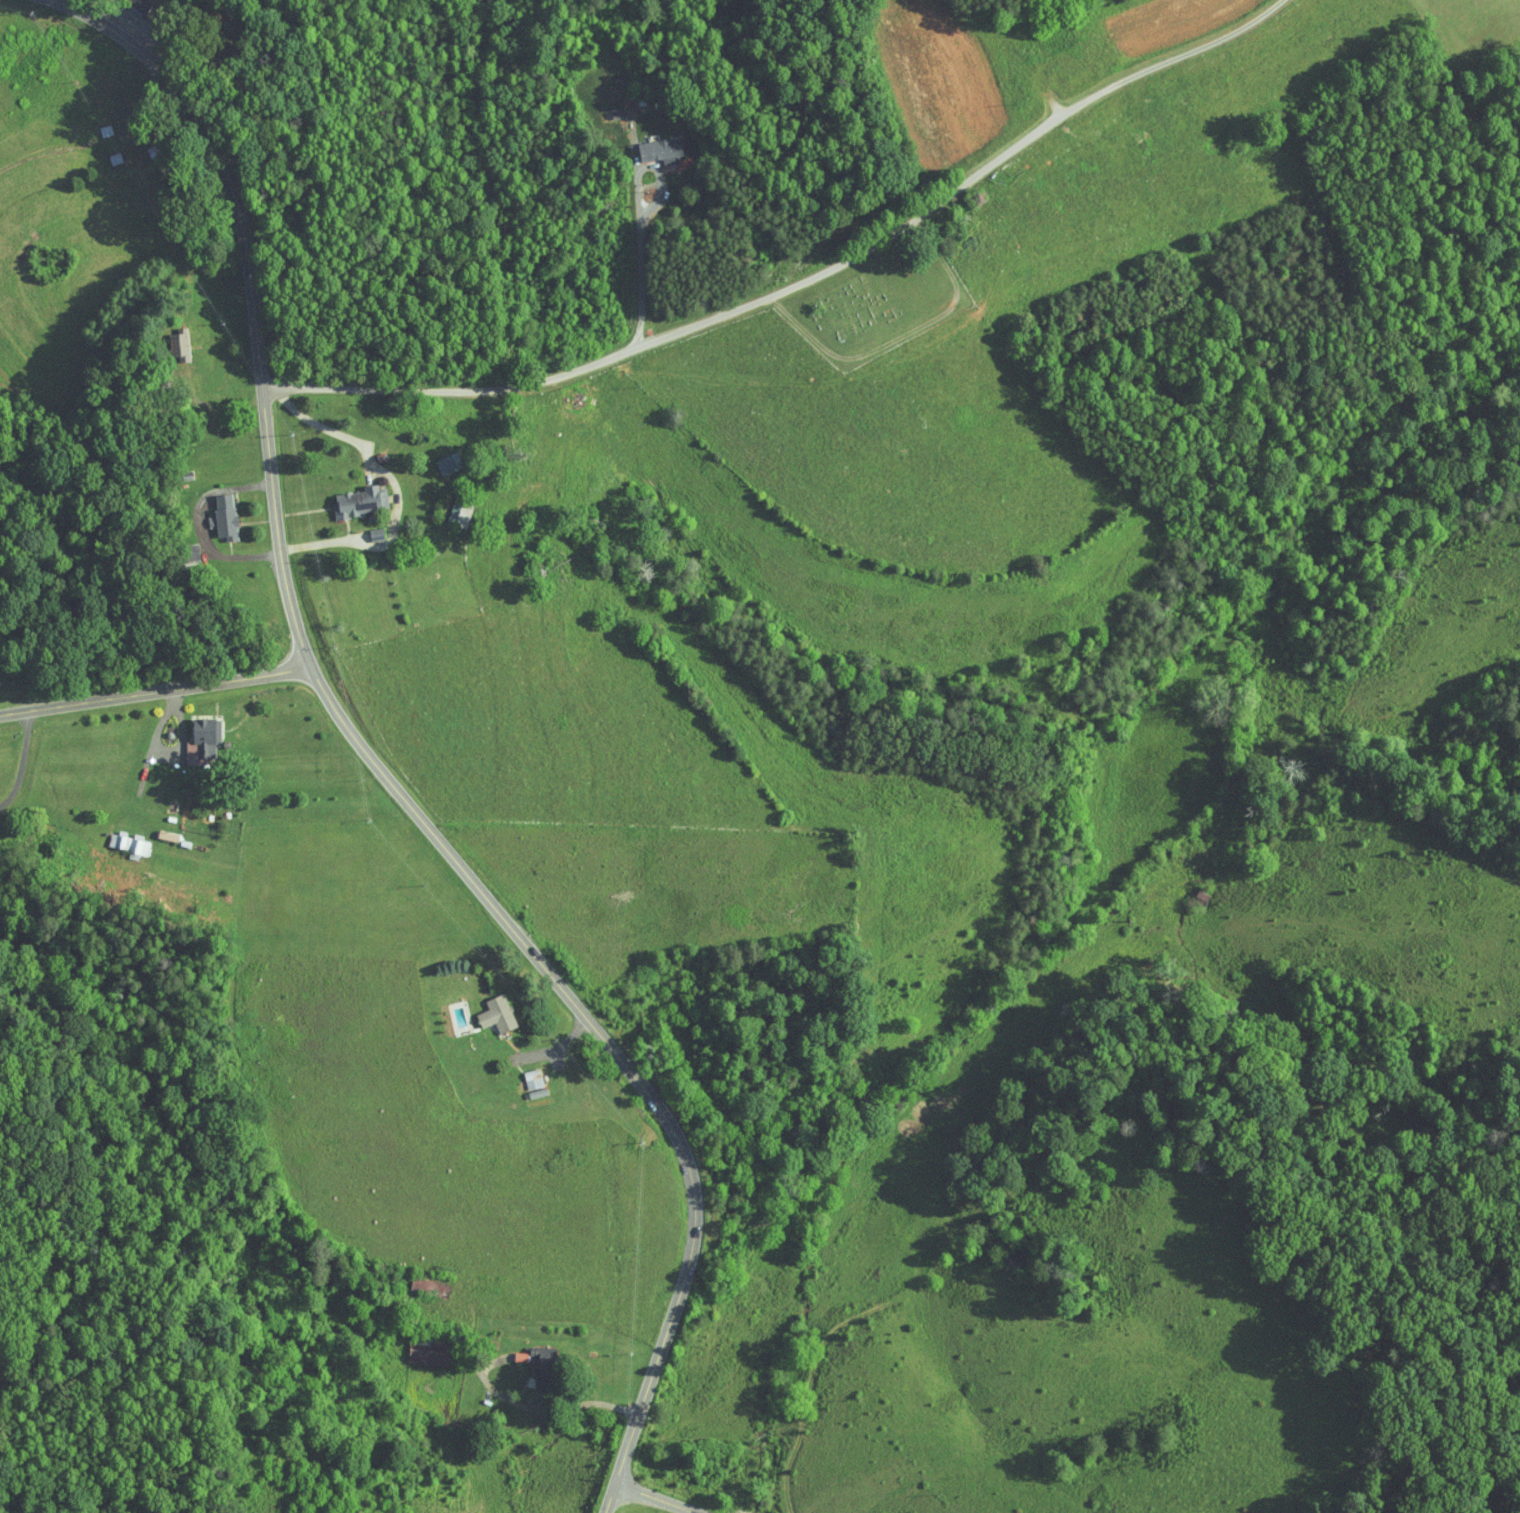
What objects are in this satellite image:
building: (125, 1)
road: (153, 24)
building: (645, 144)
road: (640, 223)
road: (803, 282)
building: (165, 338)
building: (561, 385)
road: (397, 490)
building: (346, 494)
building: (210, 511)
building: (178, 546)
road: (156, 692)
building: (195, 736)
road: (26, 756)
road: (377, 765)
building: (118, 836)
building: (482, 1008)
building: (519, 1073)
road: (976, 1191)
building: (413, 1346)
road: (554, 1407)
road: (660, 1497)

